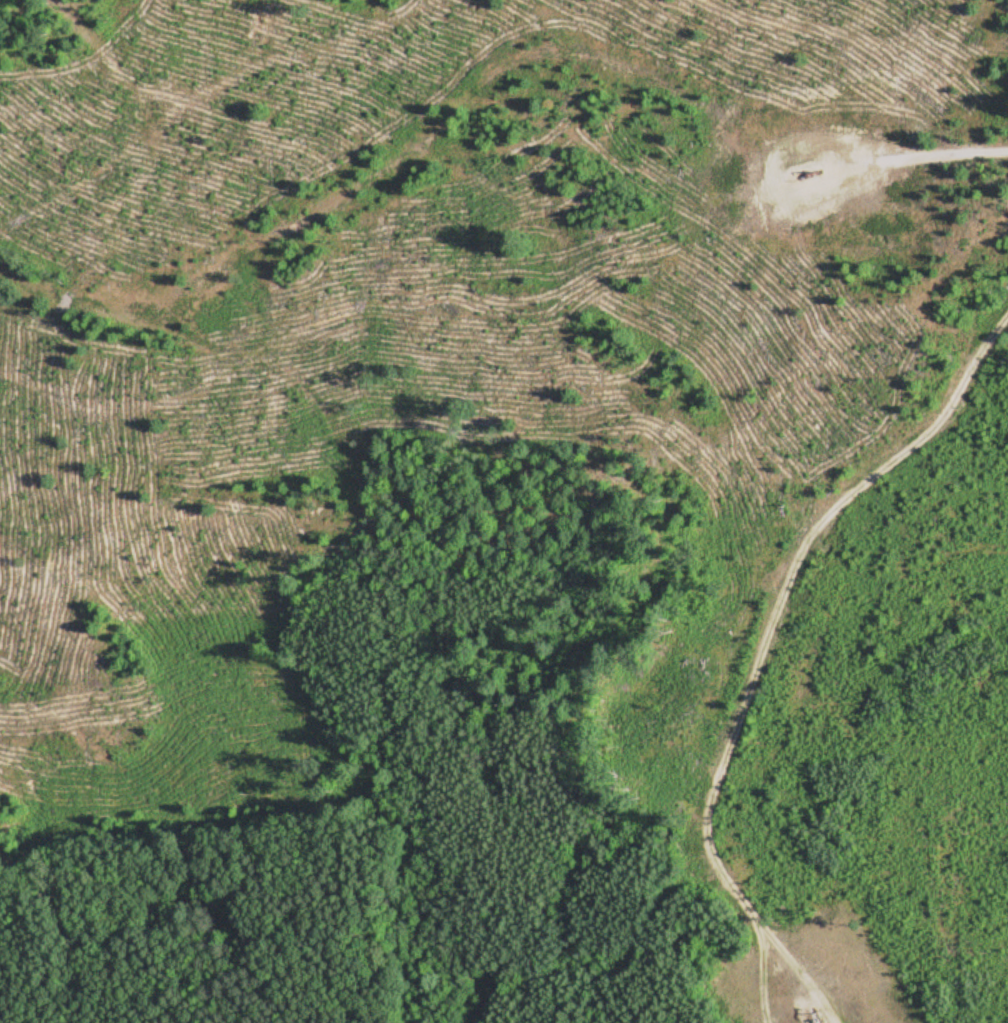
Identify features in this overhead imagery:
road: (947, 161)
petroleum well: (807, 171)
road: (767, 632)
petroleum well: (818, 1019)

